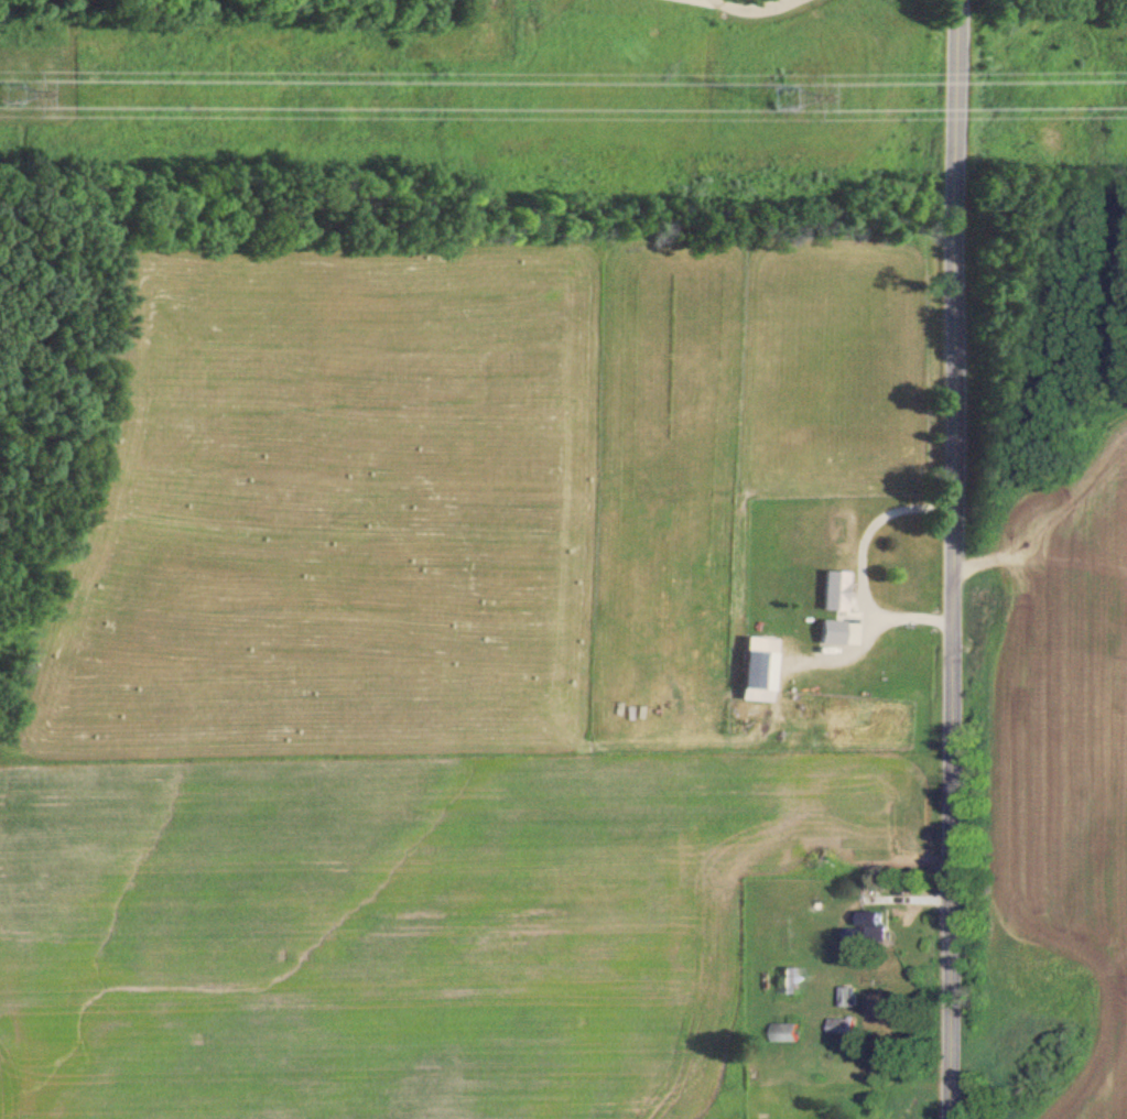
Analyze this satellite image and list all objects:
power tower: (6, 88)
power tower: (780, 94)
road: (950, 559)
building: (833, 590)
building: (831, 632)
building: (757, 670)
crop: (432, 671)
crop: (1064, 765)
building: (874, 928)
building: (791, 980)
building: (849, 998)
building: (843, 1026)
building: (788, 1033)

